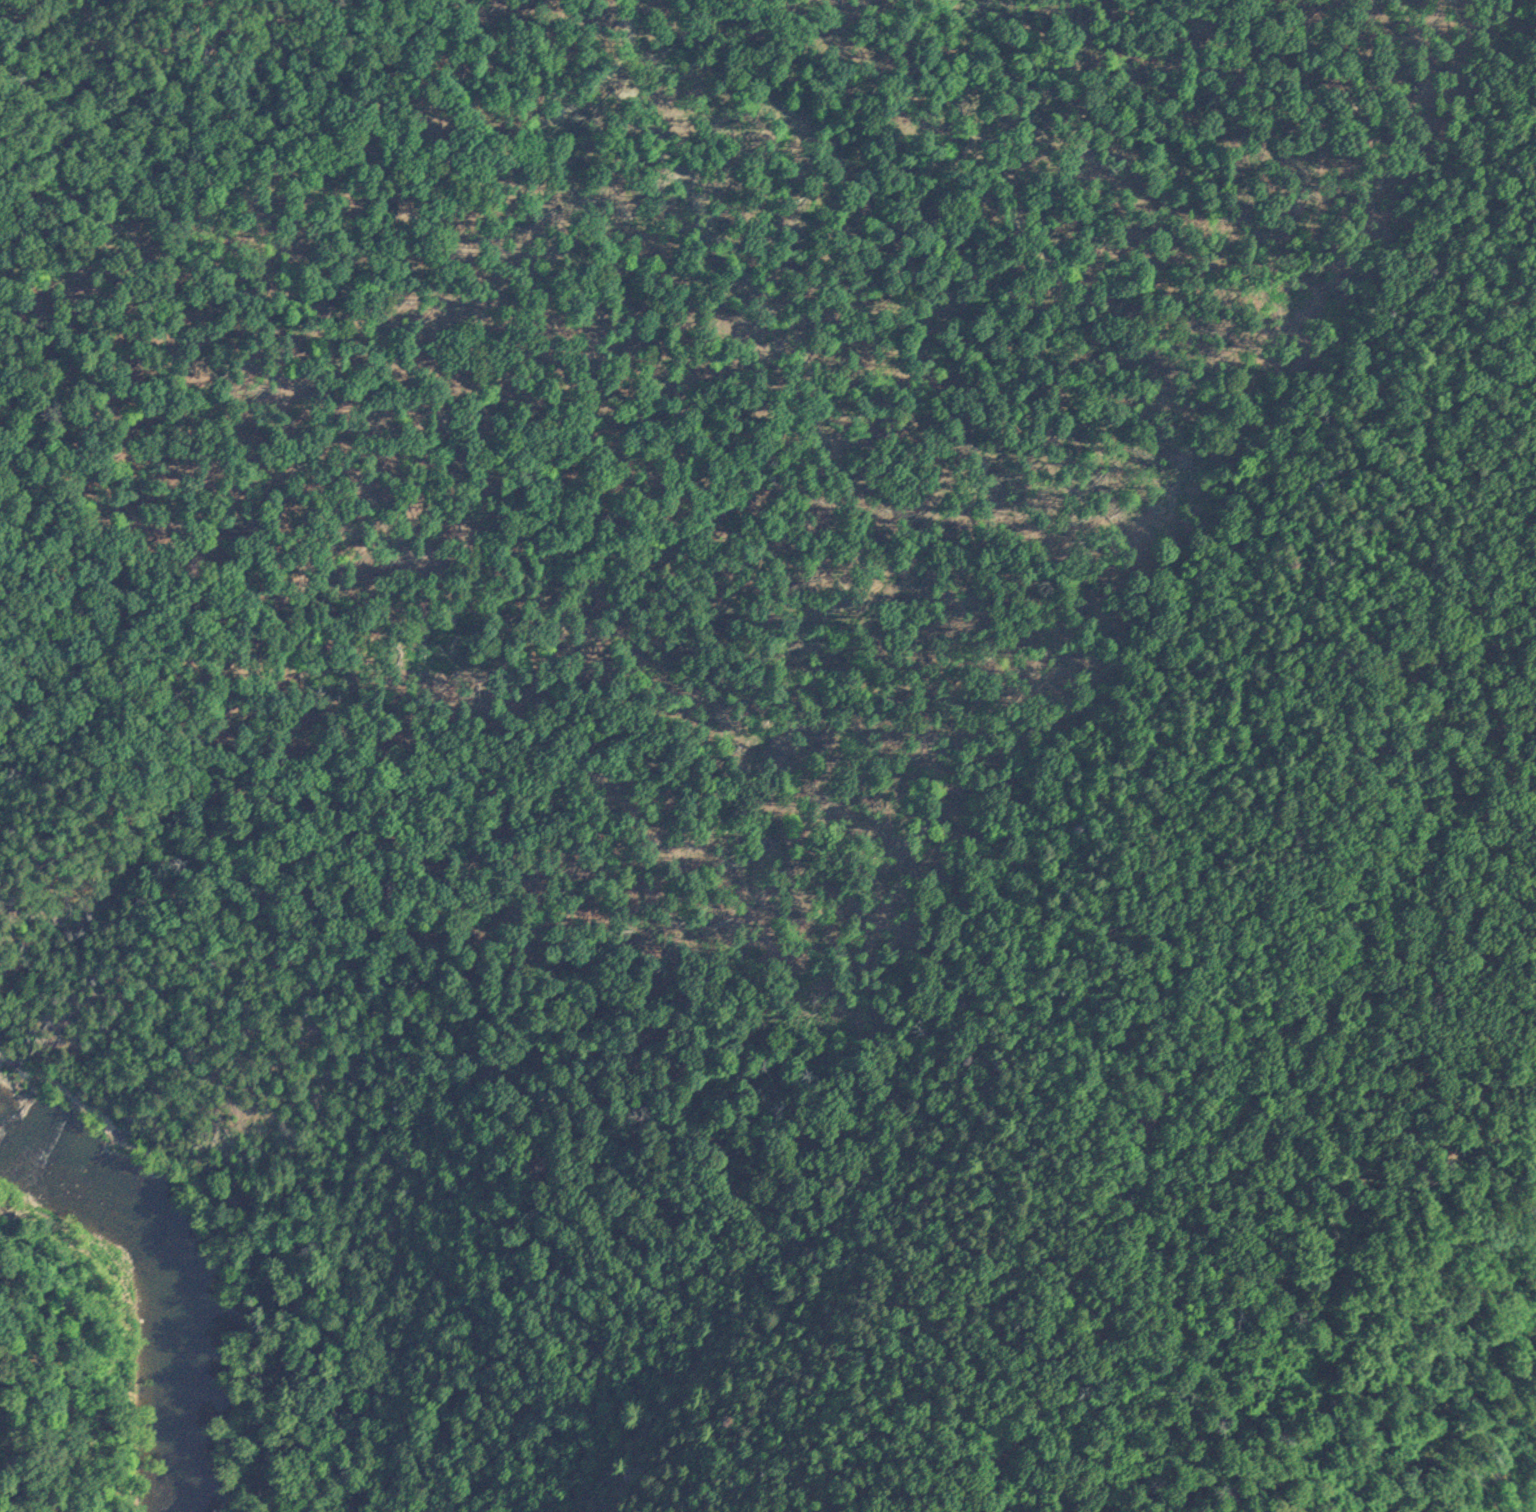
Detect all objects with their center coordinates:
road: (217, 1241)
river: (141, 1300)

